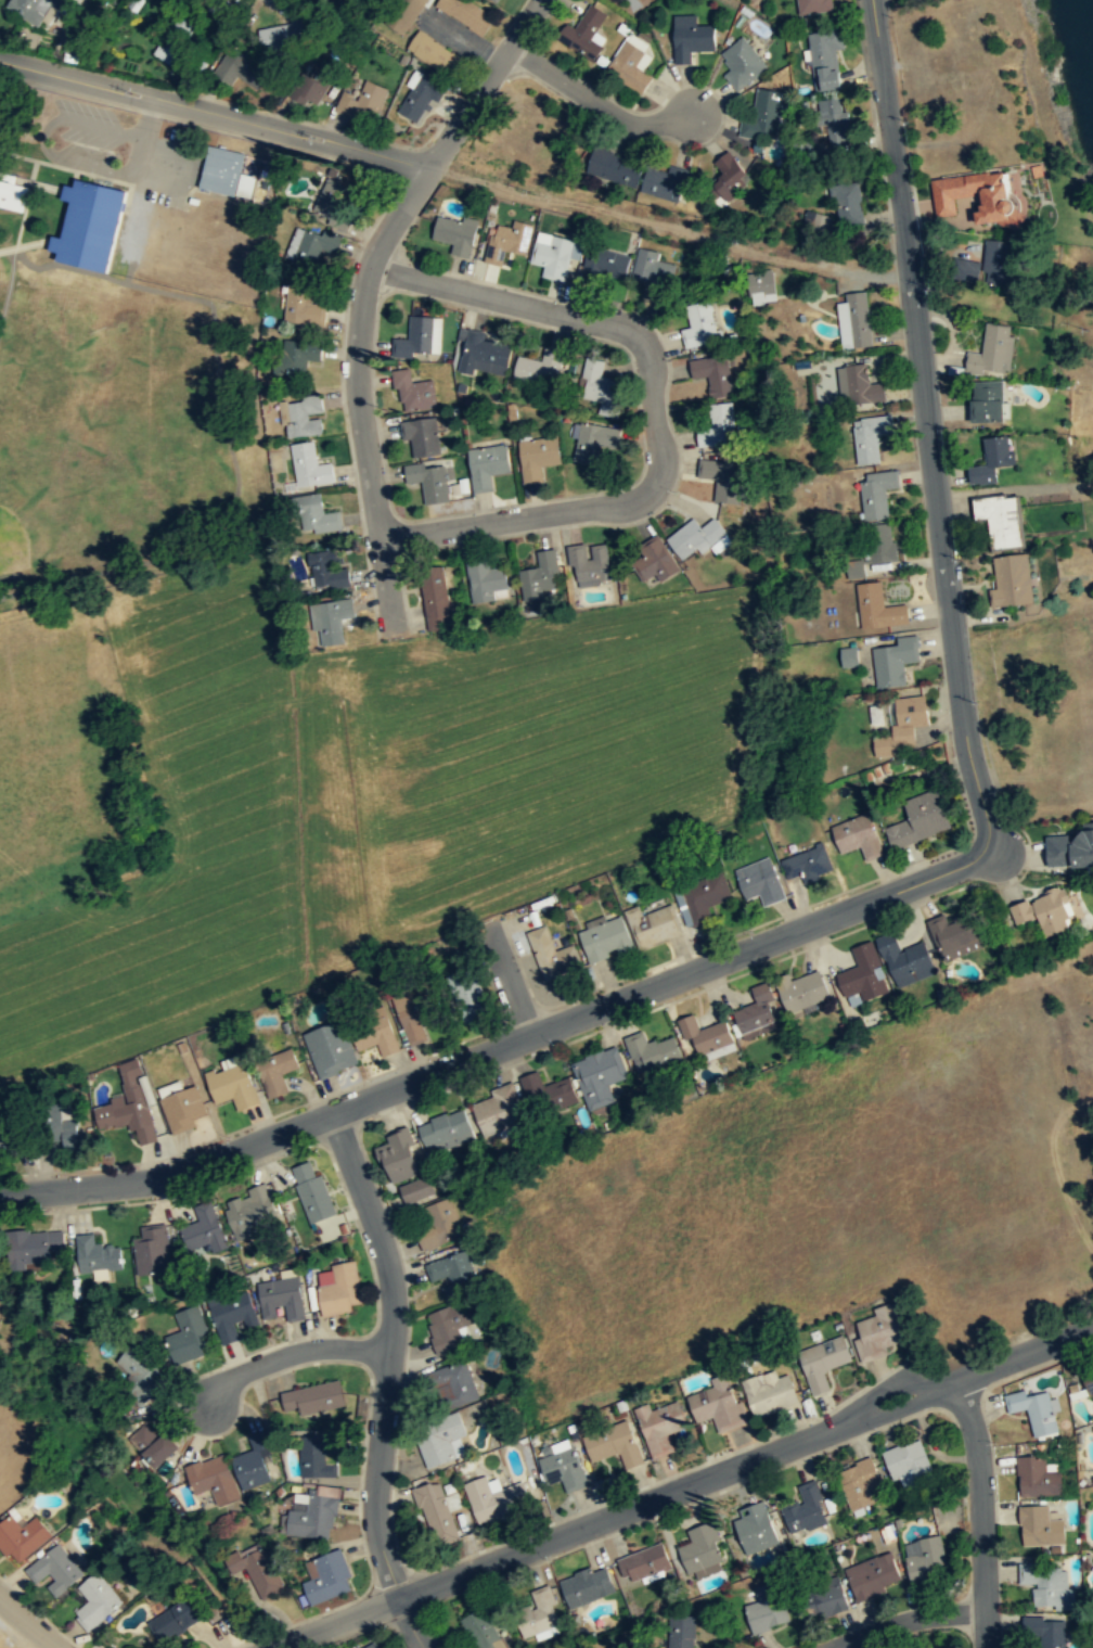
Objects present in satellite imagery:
building: (314, 0)
building: (494, 1)
road: (282, 5)
building: (812, 7)
building: (30, 9)
building: (467, 13)
building: (401, 15)
building: (185, 22)
building: (584, 33)
building: (279, 36)
building: (690, 38)
building: (168, 51)
building: (433, 52)
building: (825, 58)
building: (742, 64)
building: (241, 67)
building: (629, 67)
road: (208, 89)
building: (308, 89)
building: (419, 97)
road: (599, 102)
building: (362, 103)
road: (215, 105)
building: (763, 116)
road: (210, 119)
building: (834, 120)
building: (518, 130)
building: (614, 167)
building: (222, 171)
building: (729, 176)
building: (664, 181)
building: (10, 192)
building: (977, 194)
building: (334, 200)
building: (848, 203)
building: (815, 220)
building: (89, 225)
building: (457, 233)
building: (507, 241)
building: (307, 247)
building: (552, 257)
building: (996, 261)
building: (606, 263)
building: (965, 268)
building: (652, 270)
building: (763, 283)
road: (361, 292)
building: (303, 307)
building: (854, 319)
building: (699, 325)
building: (420, 336)
building: (993, 348)
building: (485, 354)
building: (297, 356)
building: (539, 368)
building: (712, 373)
building: (595, 383)
building: (860, 385)
building: (413, 392)
building: (987, 400)
road: (655, 411)
building: (303, 416)
road: (926, 422)
building: (717, 425)
building: (422, 435)
building: (870, 437)
building: (591, 442)
building: (537, 457)
building: (991, 460)
building: (487, 465)
building: (309, 467)
building: (723, 478)
building: (428, 481)
building: (876, 494)
building: (316, 515)
building: (1001, 521)
building: (695, 539)
building: (880, 542)
building: (654, 561)
building: (589, 564)
building: (327, 570)
building: (854, 570)
building: (539, 576)
building: (485, 580)
building: (1011, 580)
building: (435, 598)
building: (877, 608)
building: (332, 621)
building: (848, 657)
building: (893, 662)
building: (902, 726)
crop: (323, 788)
building: (920, 819)
building: (858, 836)
building: (1069, 848)
building: (807, 864)
building: (759, 881)
building: (700, 900)
building: (1045, 911)
building: (652, 924)
building: (954, 935)
building: (605, 938)
building: (552, 953)
building: (905, 960)
building: (863, 975)
road: (509, 980)
building: (802, 991)
building: (467, 994)
building: (756, 1011)
building: (409, 1017)
building: (373, 1033)
building: (704, 1035)
road: (501, 1045)
building: (330, 1049)
building: (652, 1052)
building: (277, 1070)
building: (599, 1076)
building: (230, 1086)
building: (149, 1090)
building: (546, 1093)
building: (181, 1106)
building: (496, 1110)
building: (128, 1113)
building: (60, 1123)
building: (443, 1129)
building: (74, 1137)
building: (0, 1154)
building: (398, 1157)
building: (416, 1190)
building: (312, 1192)
building: (249, 1211)
building: (438, 1225)
building: (204, 1228)
building: (33, 1245)
building: (152, 1250)
building: (97, 1255)
building: (452, 1274)
building: (337, 1288)
building: (281, 1298)
building: (231, 1313)
building: (449, 1326)
building: (878, 1332)
building: (188, 1336)
road: (399, 1351)
road: (303, 1356)
building: (822, 1363)
building: (139, 1374)
building: (1088, 1379)
building: (454, 1381)
building: (769, 1392)
building: (313, 1396)
building: (717, 1404)
building: (1033, 1411)
building: (660, 1427)
building: (440, 1441)
building: (152, 1443)
building: (614, 1445)
building: (316, 1455)
building: (253, 1461)
road: (744, 1461)
building: (906, 1464)
building: (563, 1467)
building: (1037, 1478)
building: (213, 1479)
building: (858, 1483)
building: (494, 1498)
building: (806, 1509)
road: (988, 1509)
building: (436, 1512)
building: (311, 1515)
building: (1089, 1523)
building: (755, 1526)
building: (1040, 1528)
building: (21, 1538)
building: (702, 1551)
building: (924, 1558)
building: (643, 1563)
building: (256, 1569)
building: (54, 1570)
building: (327, 1576)
building: (873, 1576)
building: (1045, 1584)
building: (587, 1586)
building: (823, 1598)
building: (95, 1601)
building: (767, 1608)
building: (538, 1613)
building: (175, 1619)
road: (28, 1623)
road: (345, 1624)
road: (408, 1624)
road: (923, 1626)
building: (481, 1630)
building: (680, 1631)
building: (1045, 1632)
building: (374, 1646)
building: (918, 1647)
building: (921, 1647)

